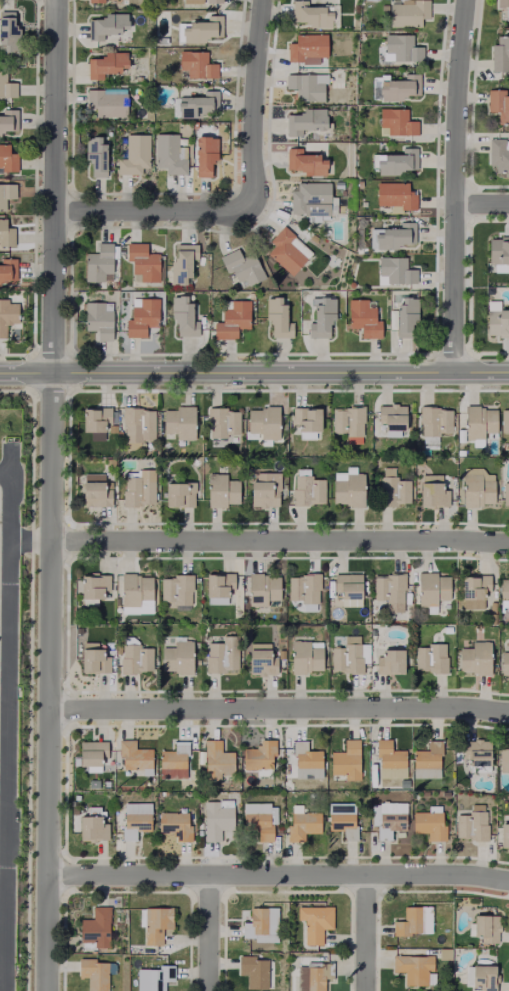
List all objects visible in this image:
building: (95, 1)
building: (199, 2)
building: (366, 3)
building: (503, 7)
building: (405, 13)
building: (312, 15)
building: (109, 28)
building: (198, 30)
building: (6, 32)
building: (304, 48)
building: (400, 49)
building: (499, 55)
building: (103, 65)
building: (193, 65)
building: (137, 79)
building: (392, 84)
building: (303, 85)
building: (0, 89)
building: (188, 100)
building: (104, 101)
building: (498, 102)
road: (252, 104)
building: (2, 116)
building: (301, 117)
building: (396, 119)
building: (168, 151)
building: (201, 151)
building: (132, 152)
building: (497, 152)
building: (94, 153)
building: (5, 157)
building: (302, 158)
building: (391, 158)
building: (358, 184)
building: (337, 185)
road: (454, 185)
building: (5, 188)
building: (341, 193)
building: (394, 194)
building: (310, 197)
road: (481, 205)
road: (153, 212)
building: (387, 232)
building: (5, 233)
building: (283, 248)
building: (497, 249)
building: (96, 260)
building: (140, 260)
building: (179, 261)
building: (6, 265)
building: (241, 265)
building: (392, 269)
building: (402, 308)
building: (318, 312)
building: (138, 313)
building: (276, 314)
building: (96, 315)
building: (179, 315)
building: (230, 315)
building: (361, 315)
building: (8, 316)
building: (497, 319)
road: (254, 372)
building: (390, 413)
building: (92, 415)
building: (504, 416)
building: (177, 420)
building: (303, 420)
building: (262, 421)
building: (347, 421)
building: (135, 422)
building: (219, 422)
building: (431, 423)
building: (478, 423)
building: (137, 484)
building: (391, 484)
building: (261, 485)
building: (304, 485)
building: (346, 485)
building: (474, 486)
building: (219, 488)
building: (176, 489)
building: (92, 490)
building: (430, 491)
building: (505, 491)
road: (51, 495)
road: (30, 543)
road: (280, 543)
building: (217, 582)
building: (345, 584)
building: (90, 585)
building: (503, 586)
building: (176, 587)
building: (472, 587)
building: (301, 588)
building: (388, 588)
building: (429, 588)
building: (259, 589)
building: (133, 594)
building: (139, 609)
building: (133, 652)
building: (347, 652)
building: (176, 654)
building: (303, 654)
building: (91, 655)
building: (217, 655)
building: (429, 655)
building: (258, 657)
building: (385, 657)
building: (473, 657)
building: (503, 660)
road: (279, 710)
road: (7, 732)
building: (87, 752)
building: (131, 753)
building: (475, 753)
building: (503, 757)
building: (213, 758)
building: (305, 758)
building: (344, 758)
building: (387, 758)
building: (172, 759)
building: (425, 759)
building: (261, 761)
building: (131, 815)
building: (339, 816)
building: (388, 816)
building: (213, 817)
building: (87, 820)
building: (427, 821)
building: (261, 823)
building: (300, 823)
building: (470, 823)
building: (176, 827)
building: (503, 827)
road: (278, 877)
building: (260, 918)
building: (412, 919)
building: (314, 920)
building: (151, 921)
building: (482, 924)
building: (92, 927)
road: (206, 934)
road: (364, 934)
building: (410, 966)
building: (251, 969)
building: (91, 972)
building: (481, 975)
building: (150, 976)
building: (304, 977)

